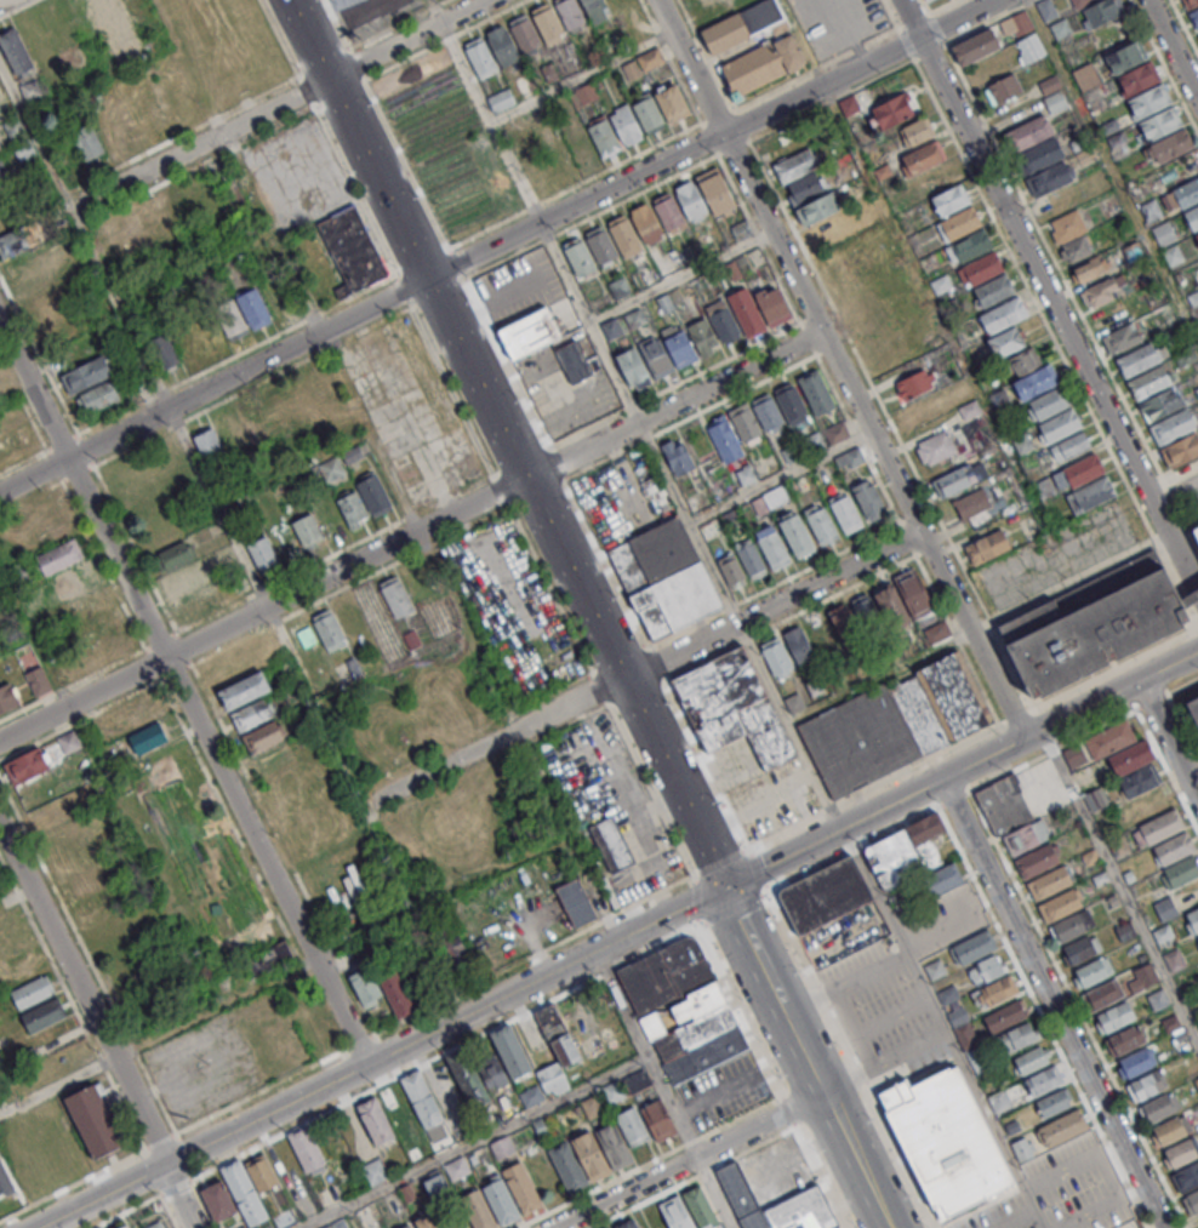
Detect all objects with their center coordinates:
building: (925, 0)
road: (6, 2)
building: (1079, 2)
building: (1190, 2)
building: (622, 5)
road: (926, 5)
road: (939, 6)
building: (104, 7)
building: (595, 10)
building: (1102, 12)
road: (892, 13)
building: (570, 15)
road: (914, 18)
building: (1194, 18)
road: (909, 19)
road: (957, 19)
building: (547, 22)
parking lot: (837, 22)
building: (1020, 22)
building: (742, 24)
road: (1185, 25)
road: (849, 32)
building: (525, 33)
road: (884, 34)
road: (372, 36)
road: (444, 39)
road: (803, 41)
building: (502, 45)
road: (1175, 45)
building: (975, 46)
road: (860, 47)
building: (1029, 47)
building: (15, 51)
road: (709, 56)
building: (1126, 56)
road: (838, 58)
building: (483, 59)
building: (761, 63)
road: (1164, 67)
road: (817, 69)
road: (584, 75)
building: (1085, 76)
building: (1137, 78)
building: (1003, 88)
road: (774, 90)
building: (1052, 93)
building: (671, 99)
building: (1148, 99)
building: (501, 101)
road: (279, 105)
building: (155, 110)
road: (732, 110)
building: (892, 110)
road: (486, 112)
building: (648, 113)
road: (718, 115)
building: (133, 121)
road: (702, 122)
building: (1159, 122)
road: (743, 125)
building: (628, 127)
building: (15, 130)
building: (109, 131)
road: (681, 131)
building: (915, 131)
building: (1028, 132)
building: (603, 136)
road: (711, 138)
building: (87, 142)
road: (748, 142)
building: (1171, 144)
road: (734, 147)
building: (0, 149)
road: (717, 152)
road: (720, 153)
building: (1039, 155)
building: (923, 156)
building: (559, 158)
building: (2, 169)
building: (534, 169)
road: (677, 173)
building: (800, 176)
building: (1049, 178)
building: (715, 187)
building: (1187, 192)
building: (949, 199)
building: (232, 200)
building: (691, 200)
road: (426, 202)
road: (535, 205)
building: (1109, 206)
building: (816, 209)
building: (1151, 210)
building: (668, 212)
building: (1192, 217)
building: (649, 223)
building: (156, 225)
building: (1163, 232)
building: (624, 235)
building: (963, 235)
building: (1072, 235)
road: (550, 236)
building: (1196, 236)
road: (759, 238)
building: (18, 239)
building: (600, 244)
road: (449, 249)
building: (353, 250)
building: (1171, 255)
building: (578, 256)
road: (506, 259)
building: (29, 263)
road: (457, 263)
road: (458, 264)
building: (1088, 268)
building: (981, 269)
road: (684, 275)
building: (620, 287)
building: (993, 290)
building: (1105, 290)
building: (255, 309)
building: (747, 309)
road: (1059, 310)
building: (1003, 314)
building: (723, 318)
building: (232, 320)
building: (532, 332)
road: (133, 335)
building: (702, 335)
building: (1122, 337)
building: (679, 342)
building: (1006, 342)
building: (164, 350)
building: (656, 355)
building: (575, 359)
building: (1137, 359)
road: (507, 361)
road: (715, 364)
building: (634, 365)
road: (846, 367)
building: (86, 373)
building: (1148, 381)
building: (1034, 382)
building: (913, 383)
road: (486, 385)
building: (323, 388)
building: (817, 389)
building: (98, 396)
building: (298, 400)
road: (679, 401)
building: (791, 402)
building: (1049, 402)
building: (1159, 404)
building: (920, 411)
building: (768, 412)
road: (891, 422)
building: (746, 423)
building: (1060, 424)
building: (256, 425)
building: (1170, 425)
building: (835, 432)
building: (725, 438)
building: (10, 441)
building: (210, 442)
building: (1023, 442)
building: (936, 446)
building: (1069, 446)
building: (1181, 450)
building: (787, 453)
building: (677, 456)
building: (850, 458)
building: (331, 468)
building: (1082, 470)
building: (746, 474)
road: (783, 475)
road: (1174, 479)
building: (954, 480)
building: (1090, 495)
building: (871, 498)
building: (770, 499)
building: (365, 501)
building: (971, 503)
building: (846, 510)
building: (822, 522)
road: (691, 526)
building: (1196, 529)
building: (51, 531)
building: (164, 532)
building: (798, 533)
building: (297, 537)
building: (986, 546)
building: (774, 547)
building: (262, 553)
building: (176, 554)
building: (59, 556)
building: (753, 559)
building: (731, 570)
building: (75, 576)
building: (22, 577)
building: (183, 578)
building: (666, 578)
road: (1197, 584)
building: (397, 598)
building: (84, 600)
building: (905, 605)
road: (264, 609)
building: (844, 621)
building: (1094, 624)
building: (330, 630)
building: (821, 633)
building: (103, 634)
building: (798, 644)
building: (776, 657)
road: (645, 664)
road: (1112, 669)
building: (38, 680)
road: (1182, 685)
building: (244, 690)
road: (183, 695)
building: (7, 697)
building: (734, 706)
building: (1193, 706)
road: (1174, 707)
building: (141, 713)
building: (252, 714)
road: (1015, 718)
road: (1116, 718)
building: (896, 722)
building: (263, 736)
building: (148, 737)
building: (68, 741)
road: (1168, 741)
road: (343, 755)
building: (1125, 756)
building: (28, 765)
road: (112, 782)
road: (878, 784)
building: (53, 812)
building: (1160, 824)
road: (702, 828)
building: (68, 834)
building: (1026, 836)
building: (611, 845)
building: (1174, 847)
building: (905, 851)
building: (1036, 859)
road: (700, 870)
building: (1179, 872)
building: (87, 879)
building: (1049, 883)
building: (929, 886)
road: (1119, 886)
traffic signals: (724, 887)
building: (825, 895)
road: (755, 897)
building: (576, 902)
building: (1059, 904)
road: (683, 907)
building: (1165, 908)
building: (1192, 920)
building: (1071, 925)
road: (1003, 932)
building: (1197, 935)
building: (1197, 938)
road: (749, 941)
building: (972, 946)
building: (451, 947)
building: (1082, 948)
building: (350, 956)
building: (1174, 959)
building: (935, 969)
building: (986, 969)
building: (1094, 971)
road: (286, 973)
building: (1146, 975)
road: (845, 982)
road: (84, 987)
building: (365, 987)
building: (35, 990)
building: (994, 990)
road: (1071, 993)
building: (1103, 993)
road: (1055, 1003)
road: (437, 1004)
building: (683, 1009)
building: (47, 1012)
parking lot: (885, 1012)
building: (1004, 1016)
building: (1116, 1016)
road: (943, 1027)
building: (559, 1035)
building: (966, 1035)
building: (1016, 1036)
building: (1126, 1038)
building: (974, 1056)
building: (503, 1058)
road: (852, 1059)
building: (1031, 1059)
building: (1139, 1061)
road: (420, 1064)
road: (772, 1076)
building: (467, 1078)
building: (1044, 1081)
building: (1149, 1084)
road: (662, 1090)
building: (615, 1091)
parking lot: (725, 1091)
building: (999, 1101)
building: (1055, 1102)
building: (426, 1107)
building: (592, 1107)
building: (1162, 1107)
road: (833, 1110)
building: (644, 1112)
building: (377, 1119)
building: (96, 1123)
building: (1063, 1126)
building: (1171, 1129)
road: (162, 1141)
building: (948, 1141)
road: (473, 1142)
building: (617, 1144)
building: (502, 1148)
building: (1022, 1148)
building: (307, 1150)
building: (1182, 1150)
building: (594, 1154)
road: (186, 1156)
road: (689, 1160)
road: (649, 1161)
building: (570, 1165)
building: (457, 1170)
building: (373, 1172)
road: (696, 1177)
building: (1186, 1177)
building: (5, 1183)
road: (73, 1183)
building: (435, 1186)
road: (177, 1187)
building: (251, 1187)
building: (524, 1187)
road: (181, 1193)
road: (99, 1194)
building: (502, 1199)
building: (1193, 1199)
building: (218, 1200)
road: (146, 1203)
building: (780, 1205)
building: (703, 1206)
building: (479, 1209)
building: (678, 1212)
parking lot: (1004, 1216)
road: (1014, 1218)
building: (430, 1220)
building: (156, 1224)
building: (338, 1224)
building: (628, 1224)
building: (125, 1226)
building: (407, 1226)
building: (244, 1227)
building: (610, 1227)

